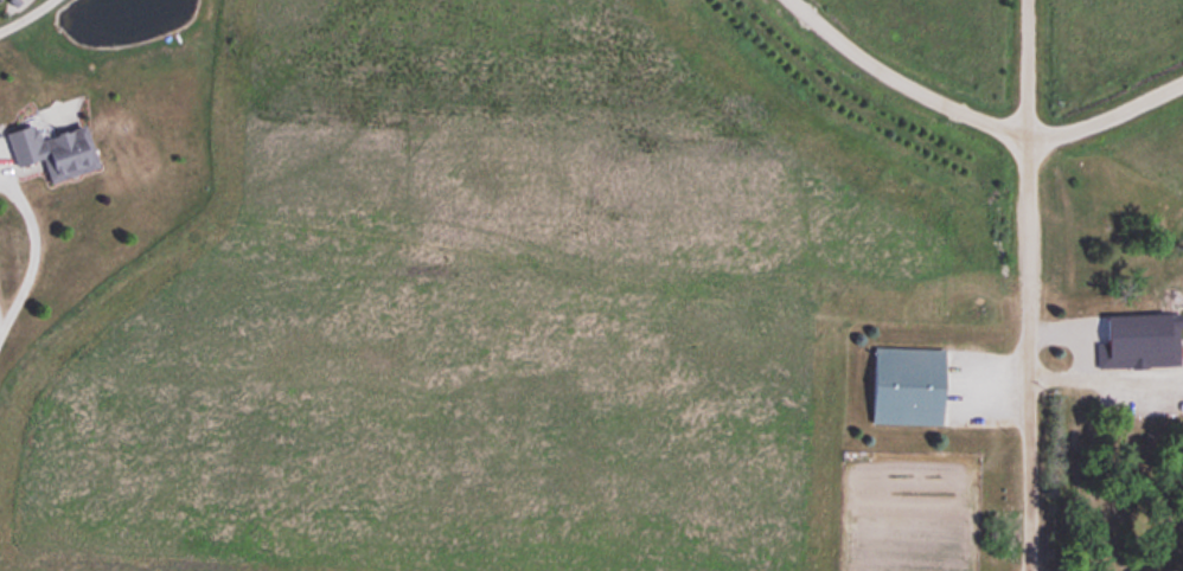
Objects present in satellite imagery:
road: (23, 14)
road: (976, 120)
building: (49, 146)
road: (31, 251)
road: (1023, 284)
road: (1102, 374)
building: (902, 383)

